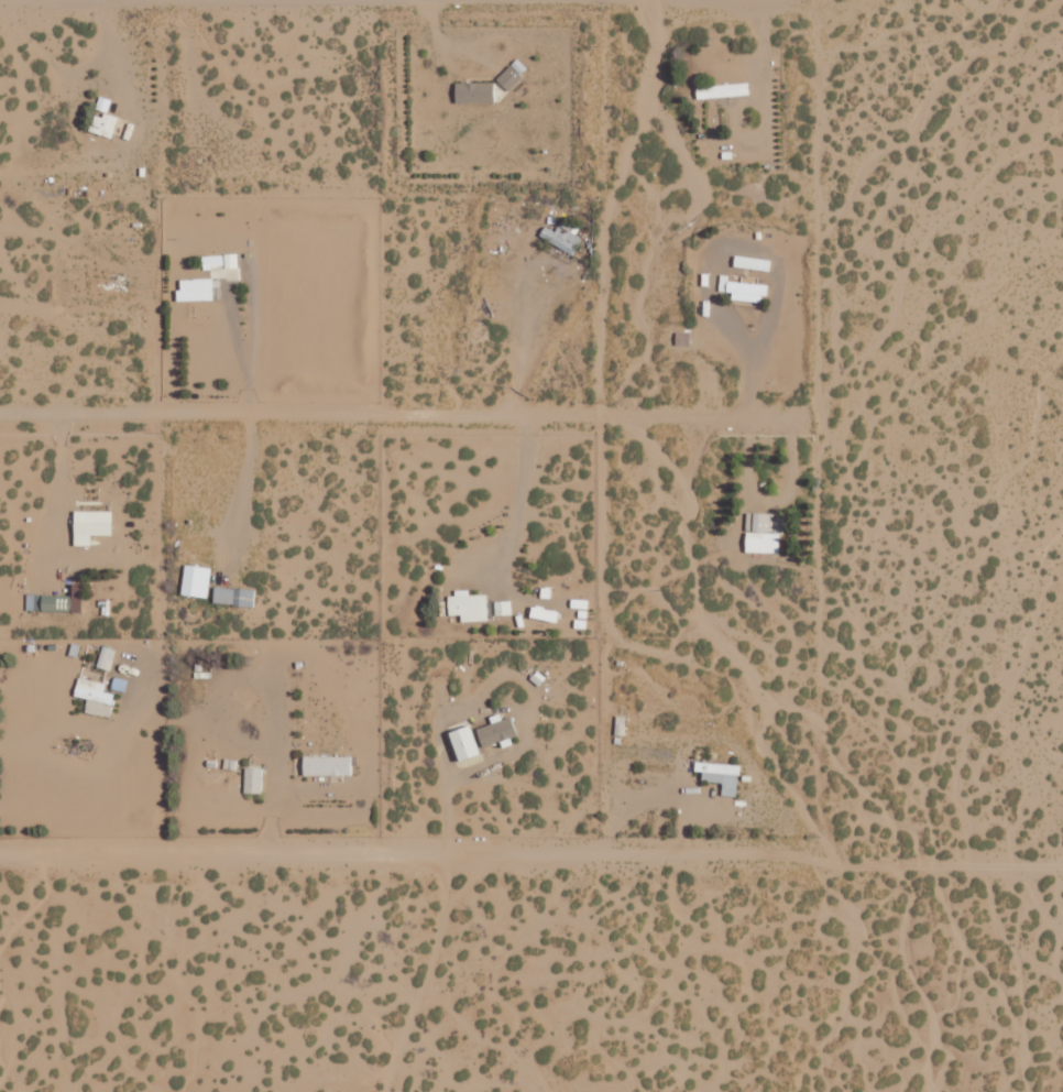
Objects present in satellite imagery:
building: (512, 73)
building: (721, 89)
building: (471, 90)
building: (101, 124)
building: (568, 226)
building: (559, 238)
building: (750, 262)
building: (194, 288)
building: (745, 288)
road: (241, 312)
road: (483, 516)
building: (89, 525)
building: (761, 533)
building: (195, 580)
building: (232, 596)
building: (467, 605)
building: (502, 607)
building: (105, 657)
building: (94, 697)
building: (495, 731)
building: (463, 742)
building: (326, 765)
building: (720, 775)
building: (252, 779)
road: (966, 975)

